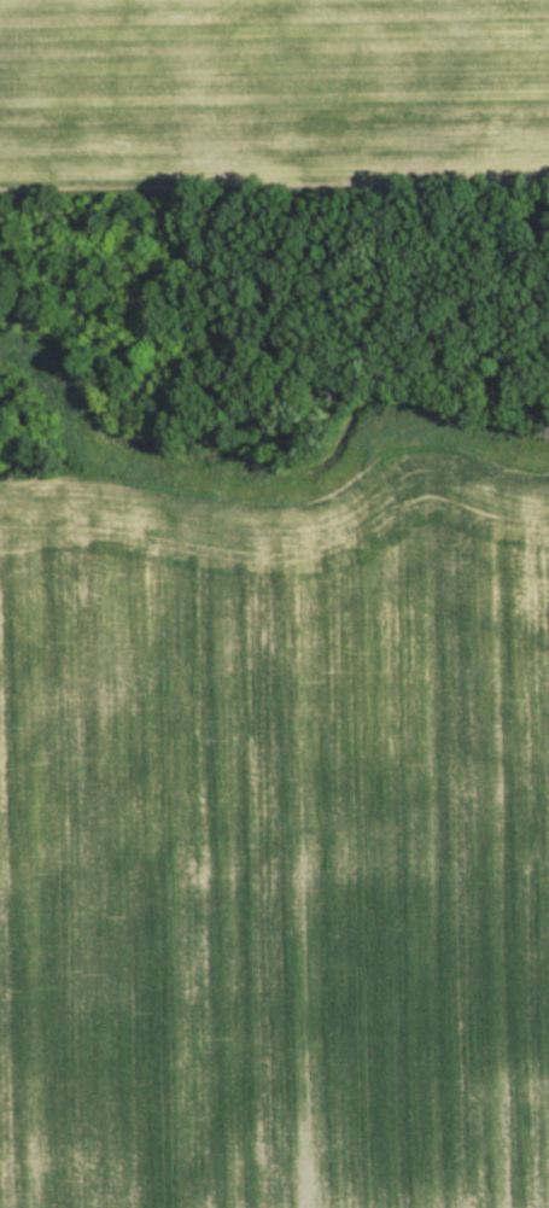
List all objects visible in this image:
crop: (271, 87)
crop: (275, 842)

